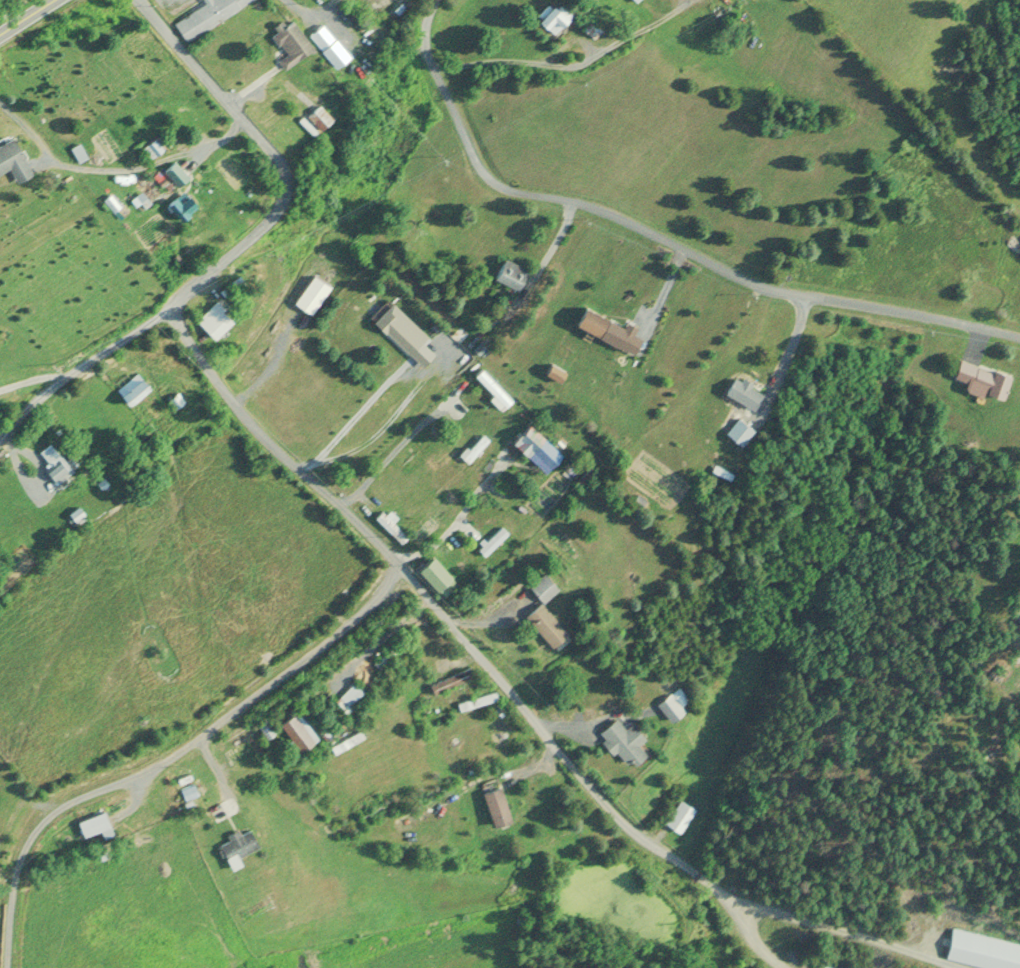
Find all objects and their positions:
building: (634, 0)
road: (26, 16)
building: (204, 17)
building: (551, 19)
building: (590, 30)
building: (288, 44)
building: (326, 46)
building: (12, 159)
road: (658, 237)
road: (242, 242)
building: (507, 275)
building: (211, 320)
building: (606, 329)
building: (401, 334)
building: (978, 377)
building: (129, 391)
building: (737, 431)
building: (533, 447)
building: (473, 450)
building: (50, 463)
building: (390, 528)
building: (433, 576)
building: (542, 586)
road: (445, 618)
building: (544, 626)
building: (347, 695)
building: (669, 702)
building: (296, 731)
building: (620, 741)
building: (240, 750)
road: (170, 755)
road: (208, 757)
building: (492, 805)
building: (677, 817)
building: (90, 825)
building: (235, 844)
building: (978, 952)
building: (824, 966)

